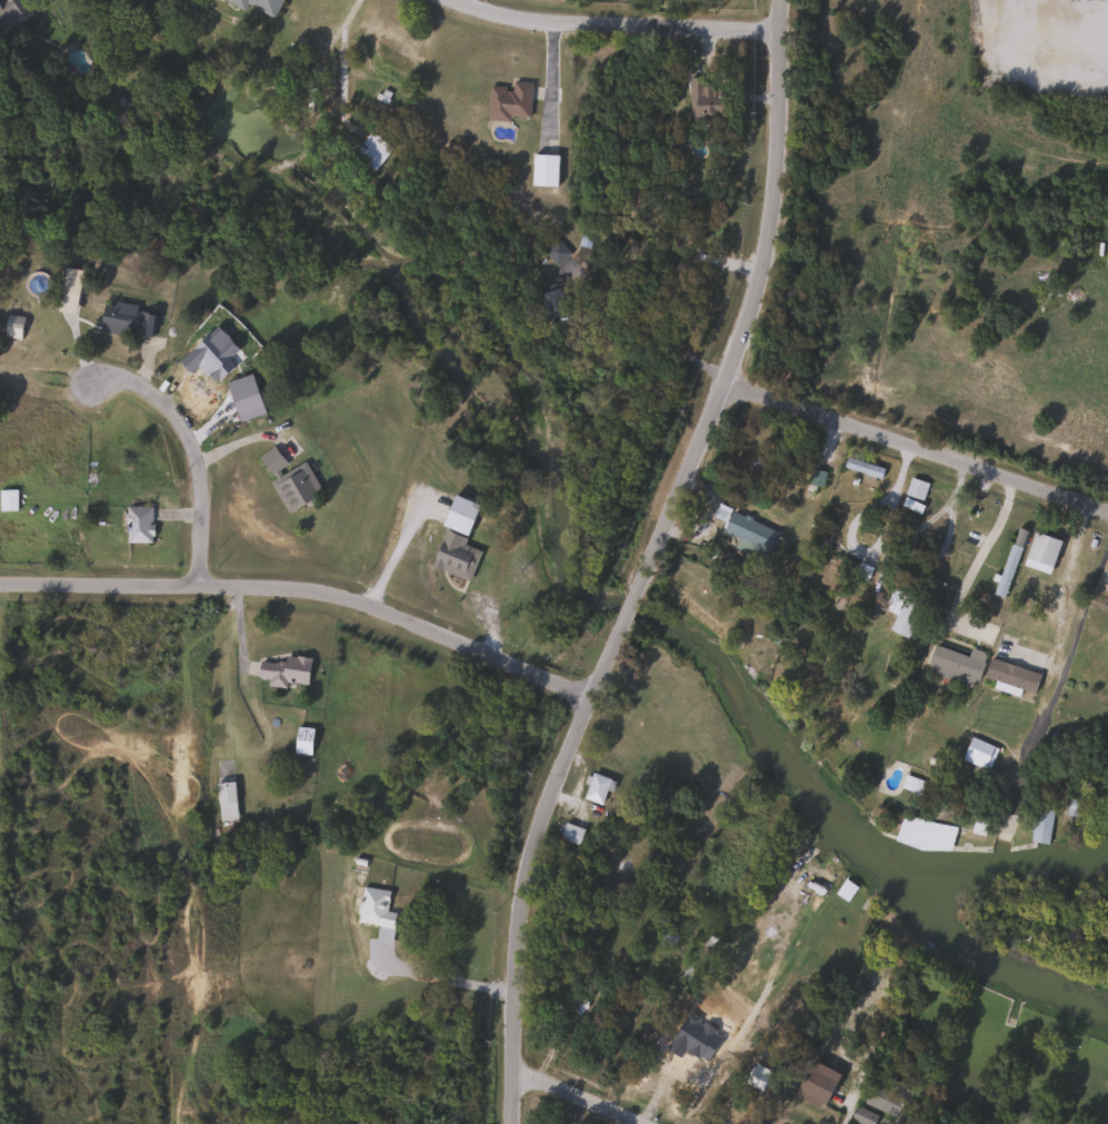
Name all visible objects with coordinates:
building: (257, 4)
building: (12, 13)
road: (612, 27)
building: (703, 100)
building: (509, 101)
building: (542, 170)
building: (556, 252)
building: (70, 280)
building: (555, 302)
building: (126, 319)
building: (10, 326)
road: (653, 330)
road: (241, 440)
road: (917, 448)
road: (193, 454)
building: (862, 467)
building: (288, 479)
building: (915, 488)
building: (7, 499)
building: (138, 525)
building: (749, 535)
road: (397, 550)
building: (1040, 553)
building: (455, 556)
road: (974, 557)
building: (1009, 561)
road: (650, 564)
building: (860, 570)
building: (835, 576)
road: (307, 593)
river: (606, 595)
road: (1061, 598)
building: (906, 615)
road: (1069, 644)
road: (54, 654)
building: (955, 665)
building: (285, 670)
building: (1011, 676)
building: (302, 740)
building: (597, 789)
building: (224, 793)
building: (1040, 825)
building: (571, 834)
building: (924, 834)
road: (194, 895)
building: (373, 907)
road: (42, 926)
building: (667, 936)
river: (978, 947)
building: (691, 964)
road: (446, 976)
road: (43, 1005)
building: (706, 1042)
road: (71, 1067)
road: (187, 1067)
building: (756, 1075)
building: (816, 1082)
road: (48, 1083)
road: (581, 1094)
building: (882, 1098)

